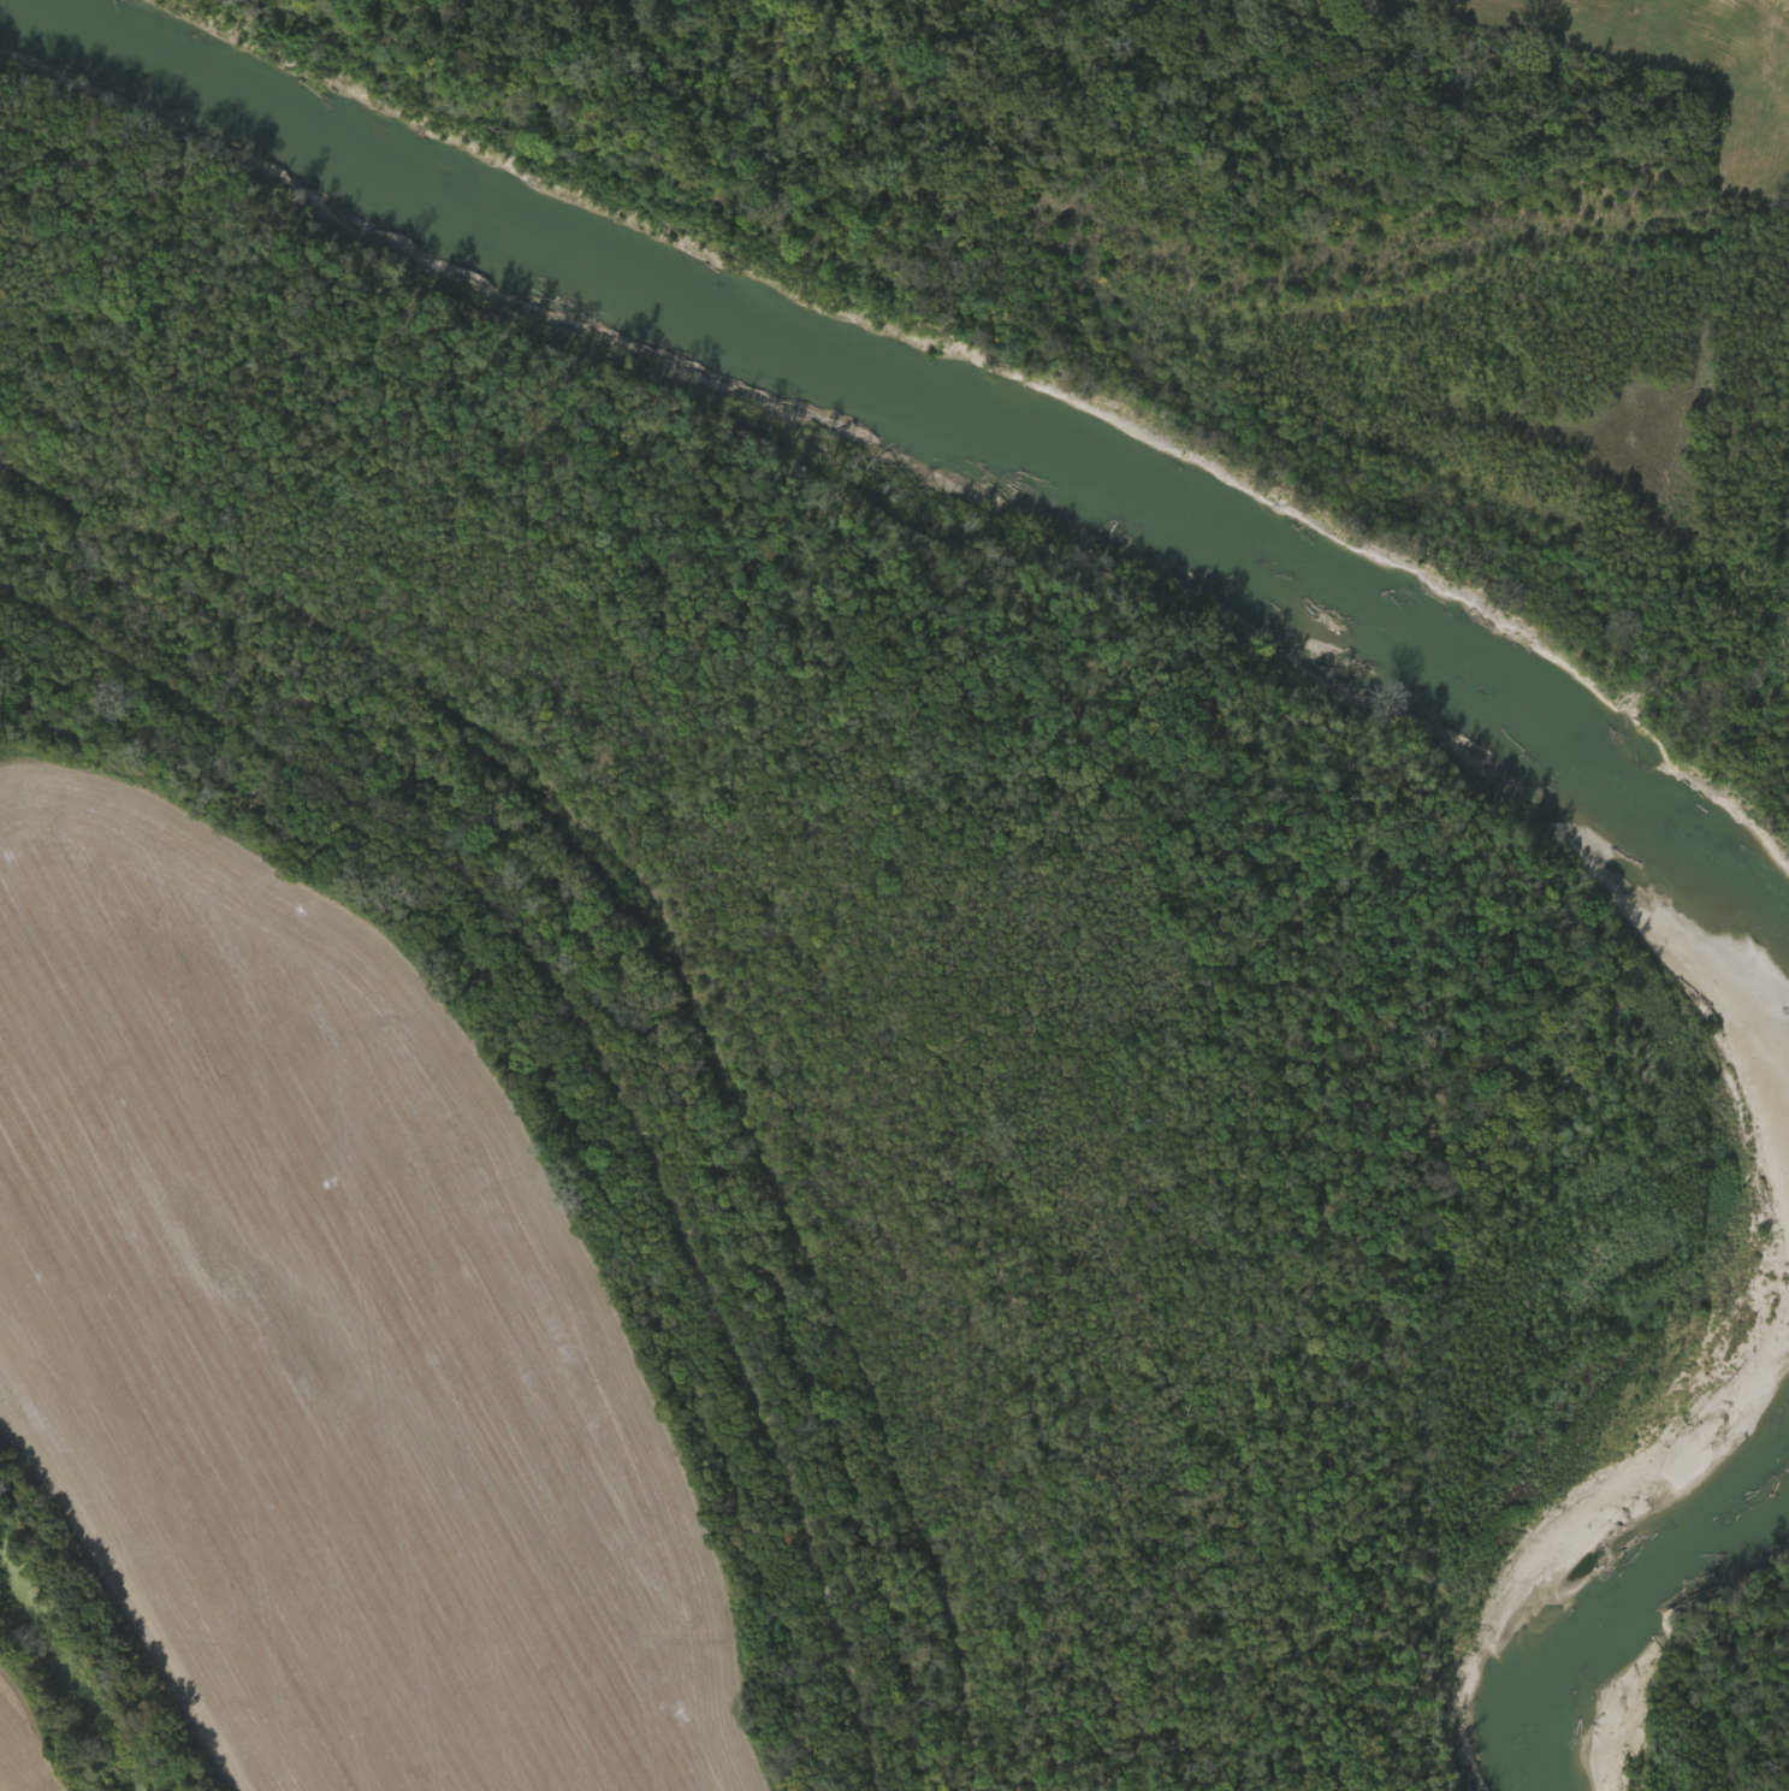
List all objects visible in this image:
river: (1326, 597)
crop: (331, 1340)
crop: (59, 1785)

